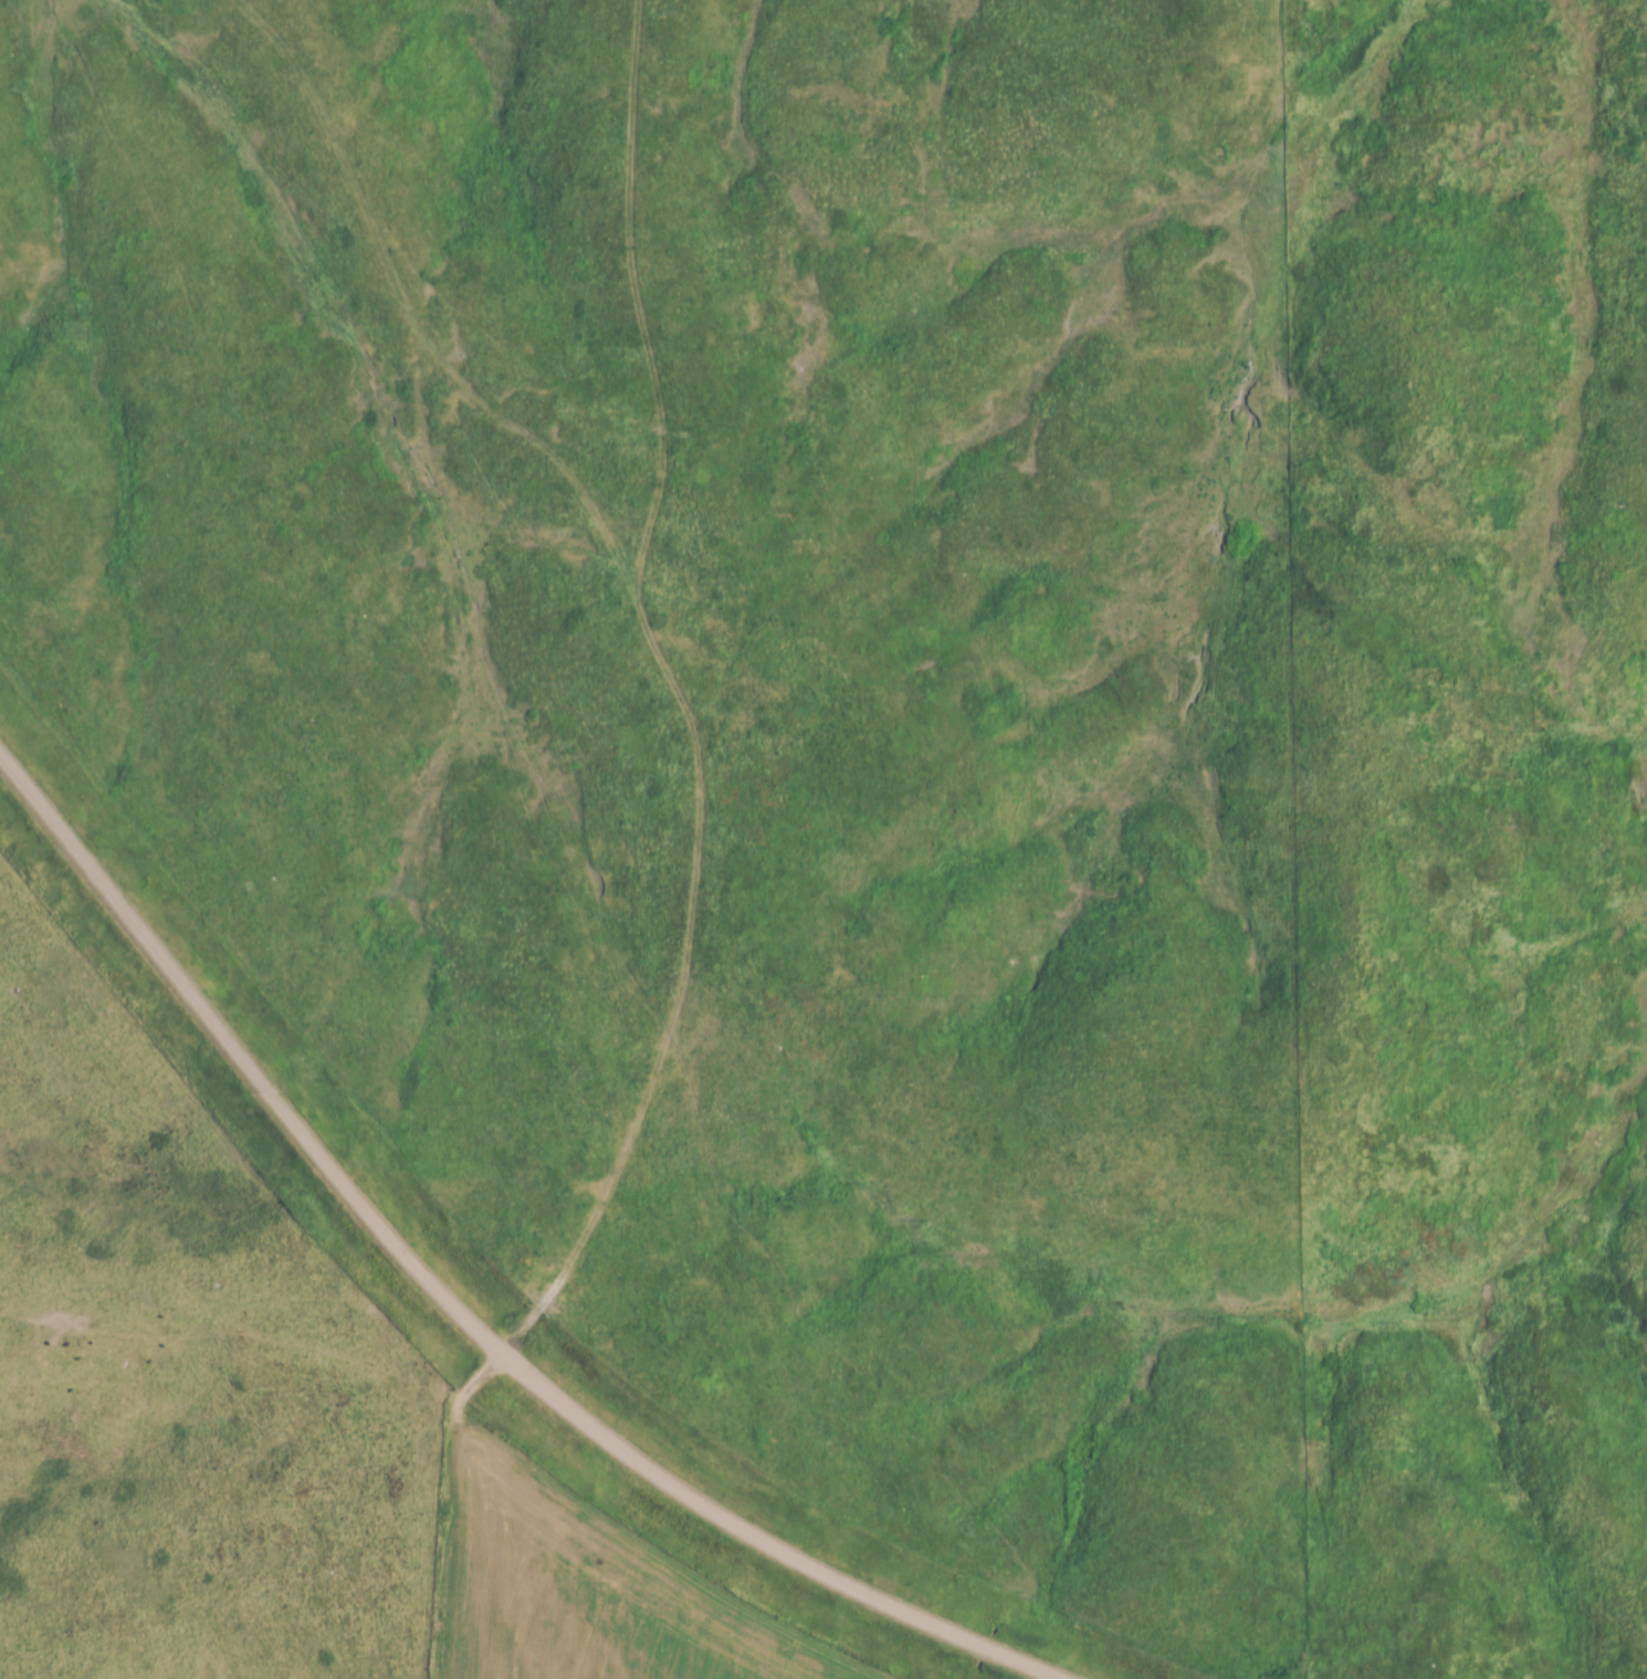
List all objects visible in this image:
road: (457, 1310)

